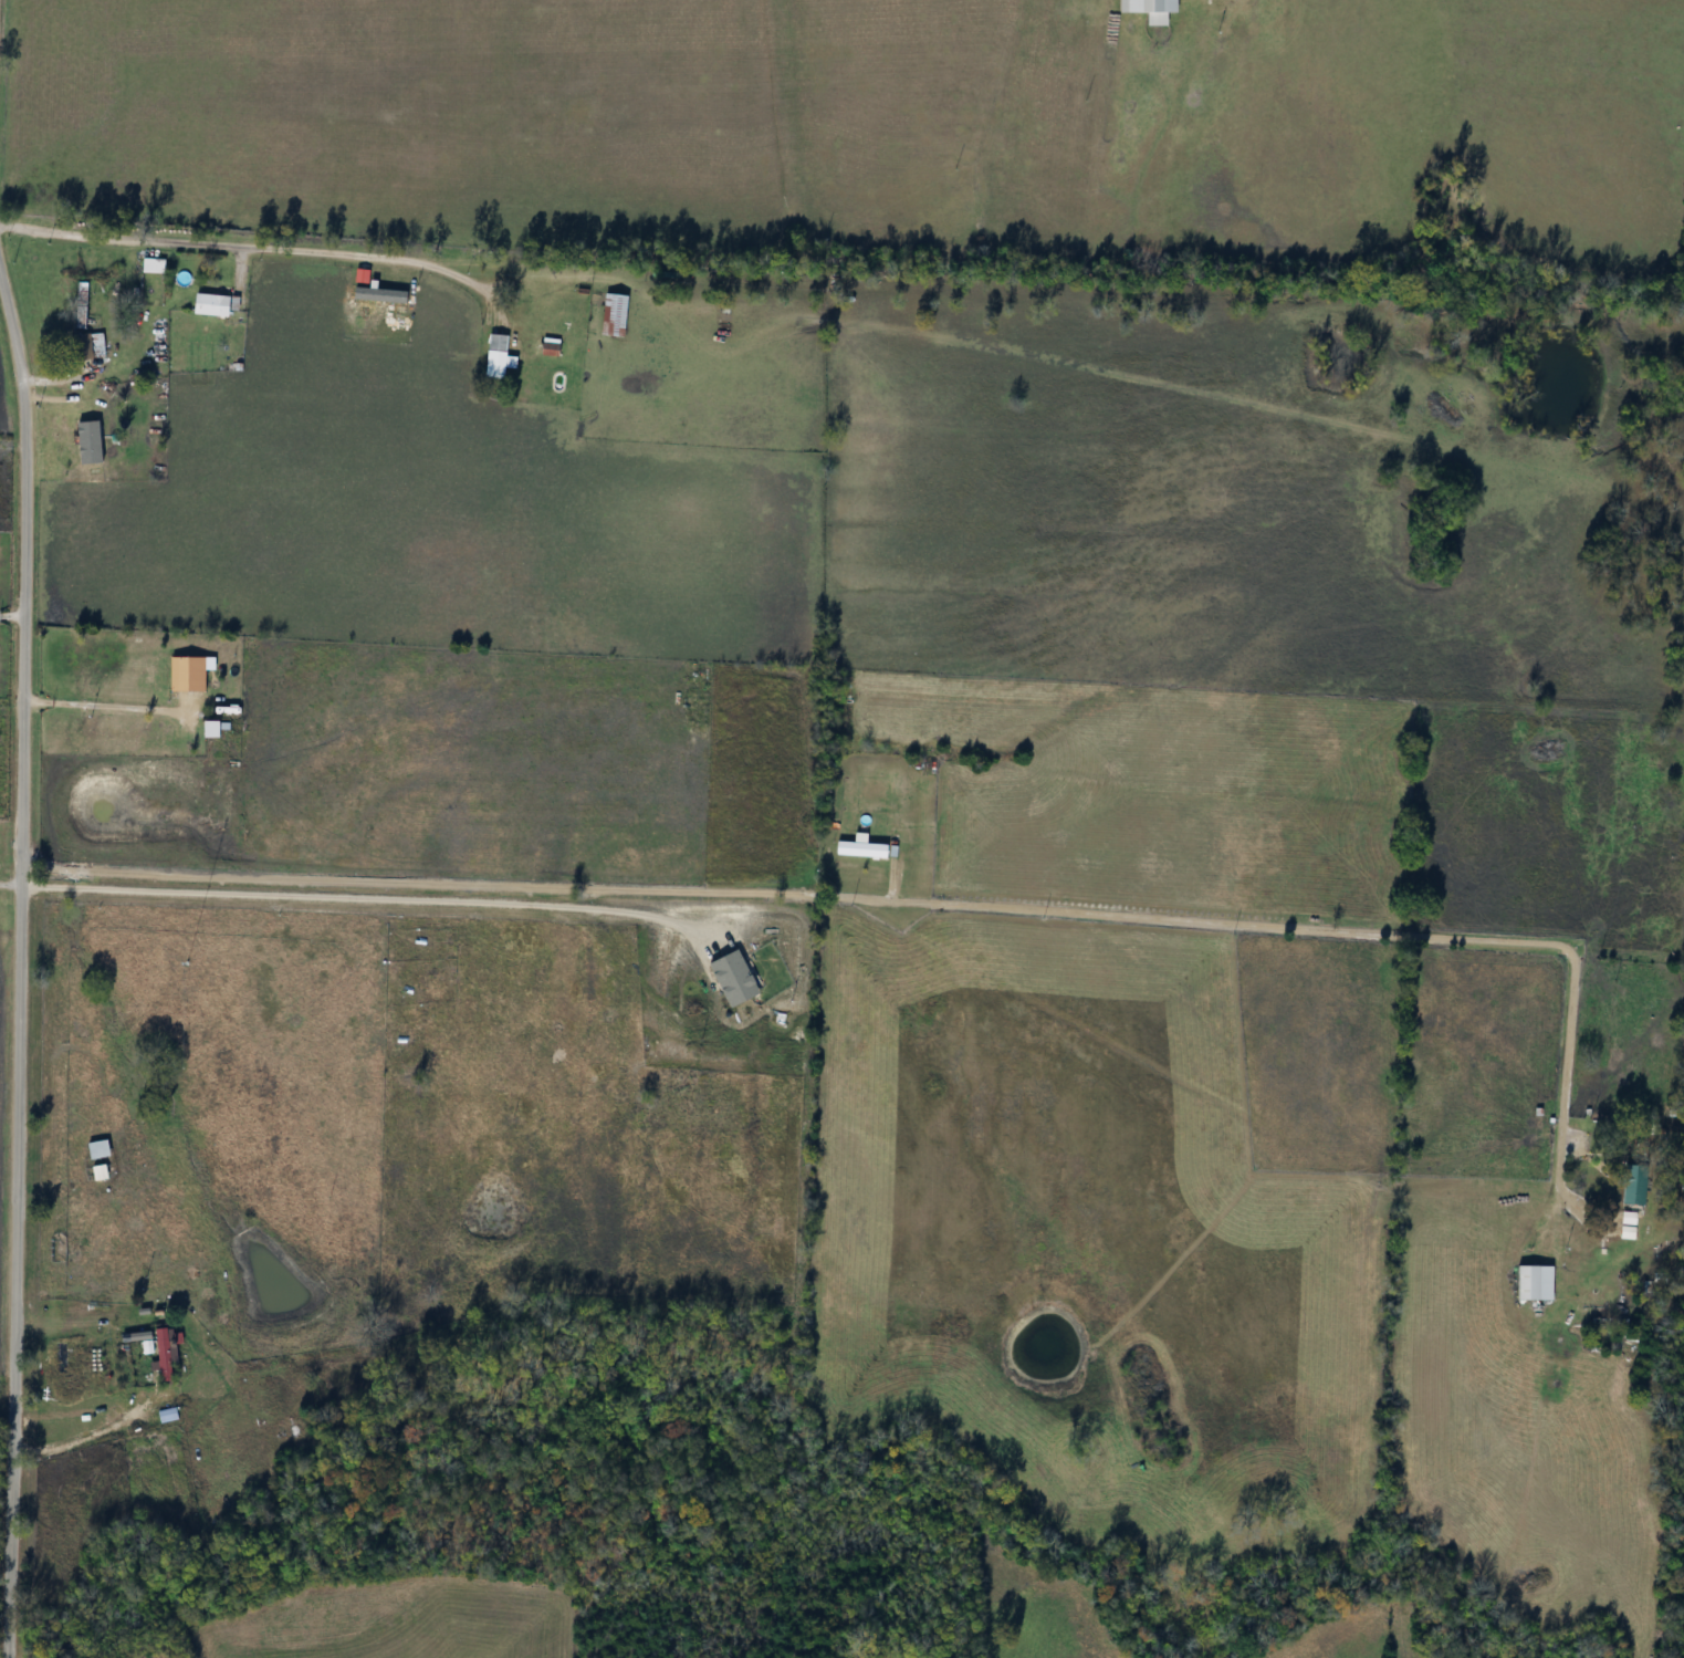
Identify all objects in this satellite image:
building: (1152, 9)
road: (247, 243)
building: (154, 265)
building: (217, 305)
building: (616, 315)
building: (87, 346)
building: (553, 350)
building: (189, 675)
road: (106, 703)
building: (216, 729)
building: (862, 848)
road: (9, 883)
road: (351, 894)
road: (924, 906)
road: (17, 972)
building: (100, 1149)
building: (1624, 1226)
building: (1529, 1283)
building: (165, 1352)
road: (116, 1414)

